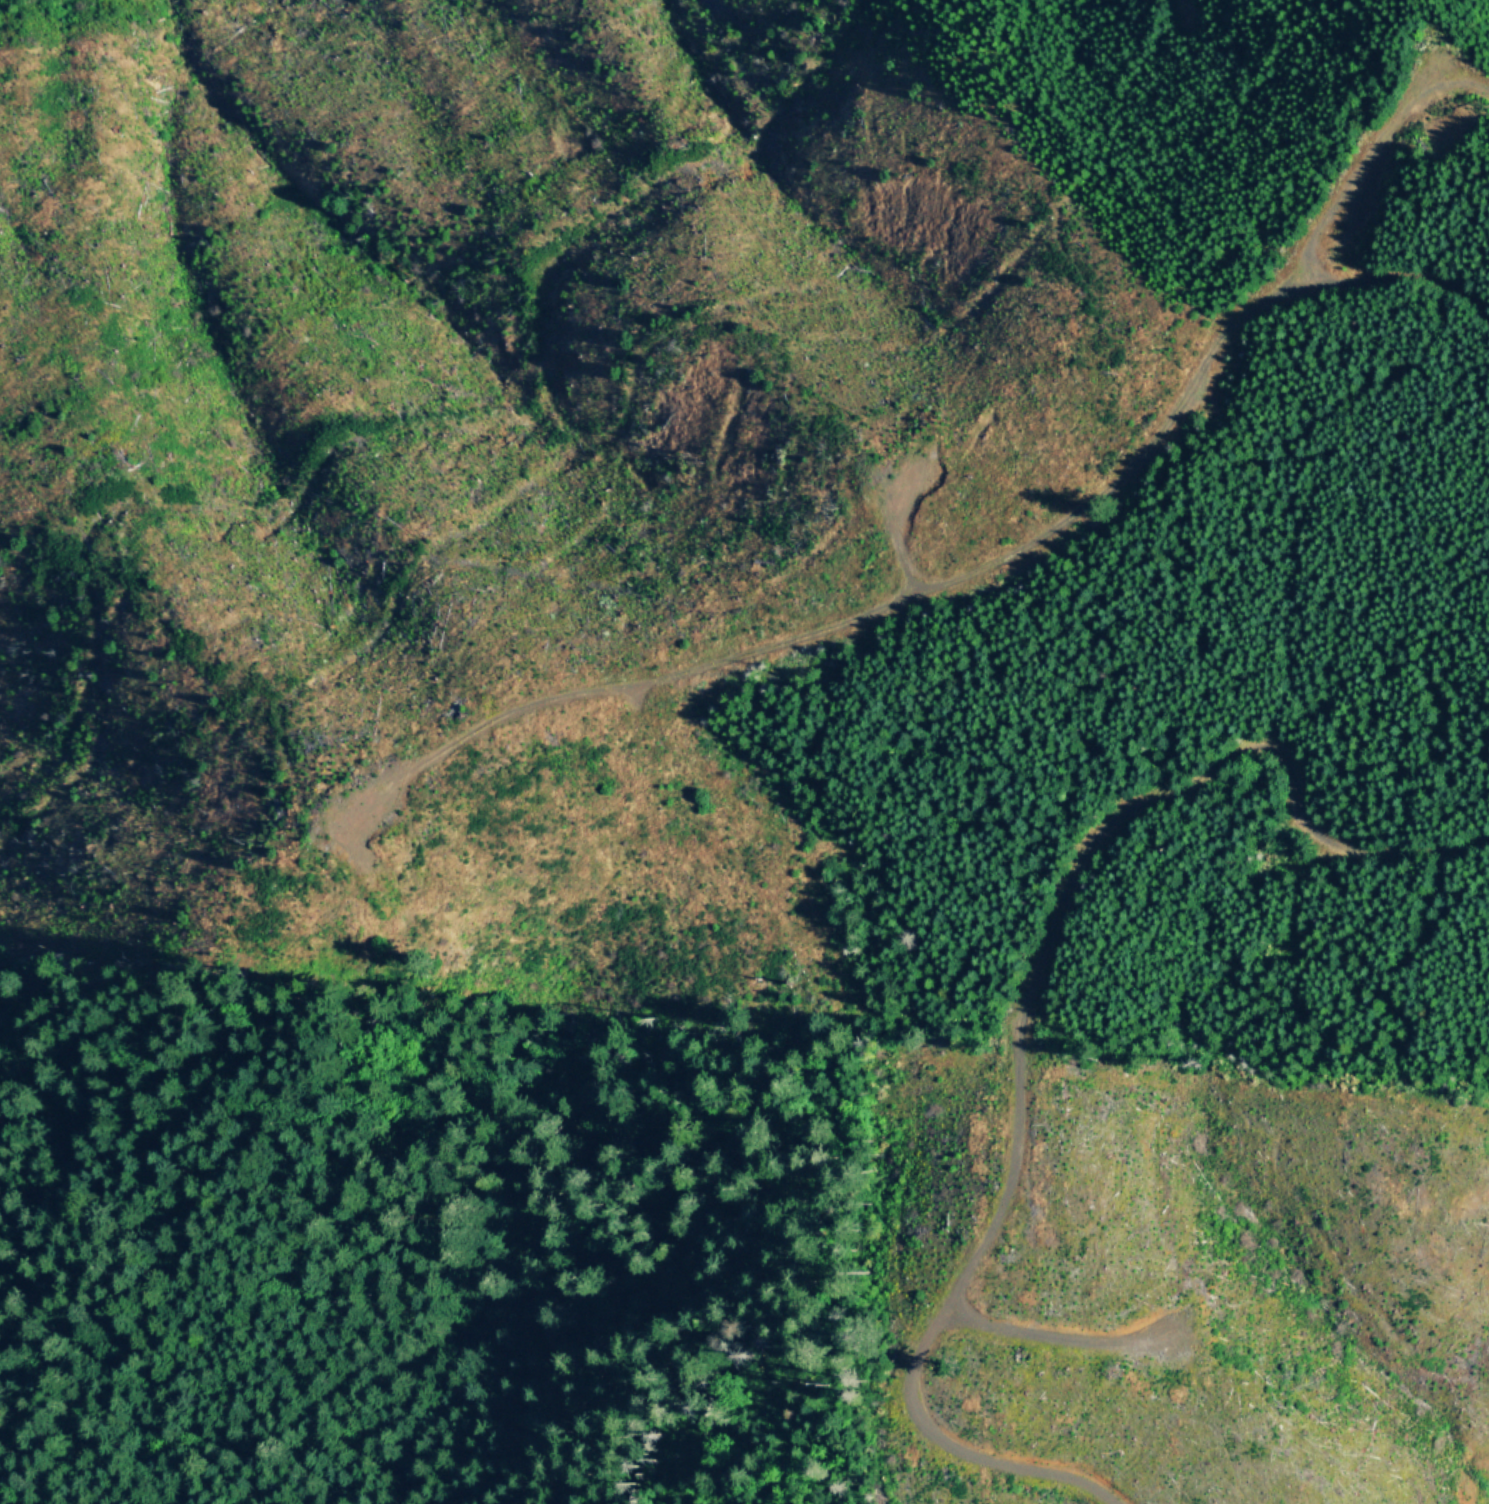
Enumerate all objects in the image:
road: (1145, 259)
road: (539, 264)

